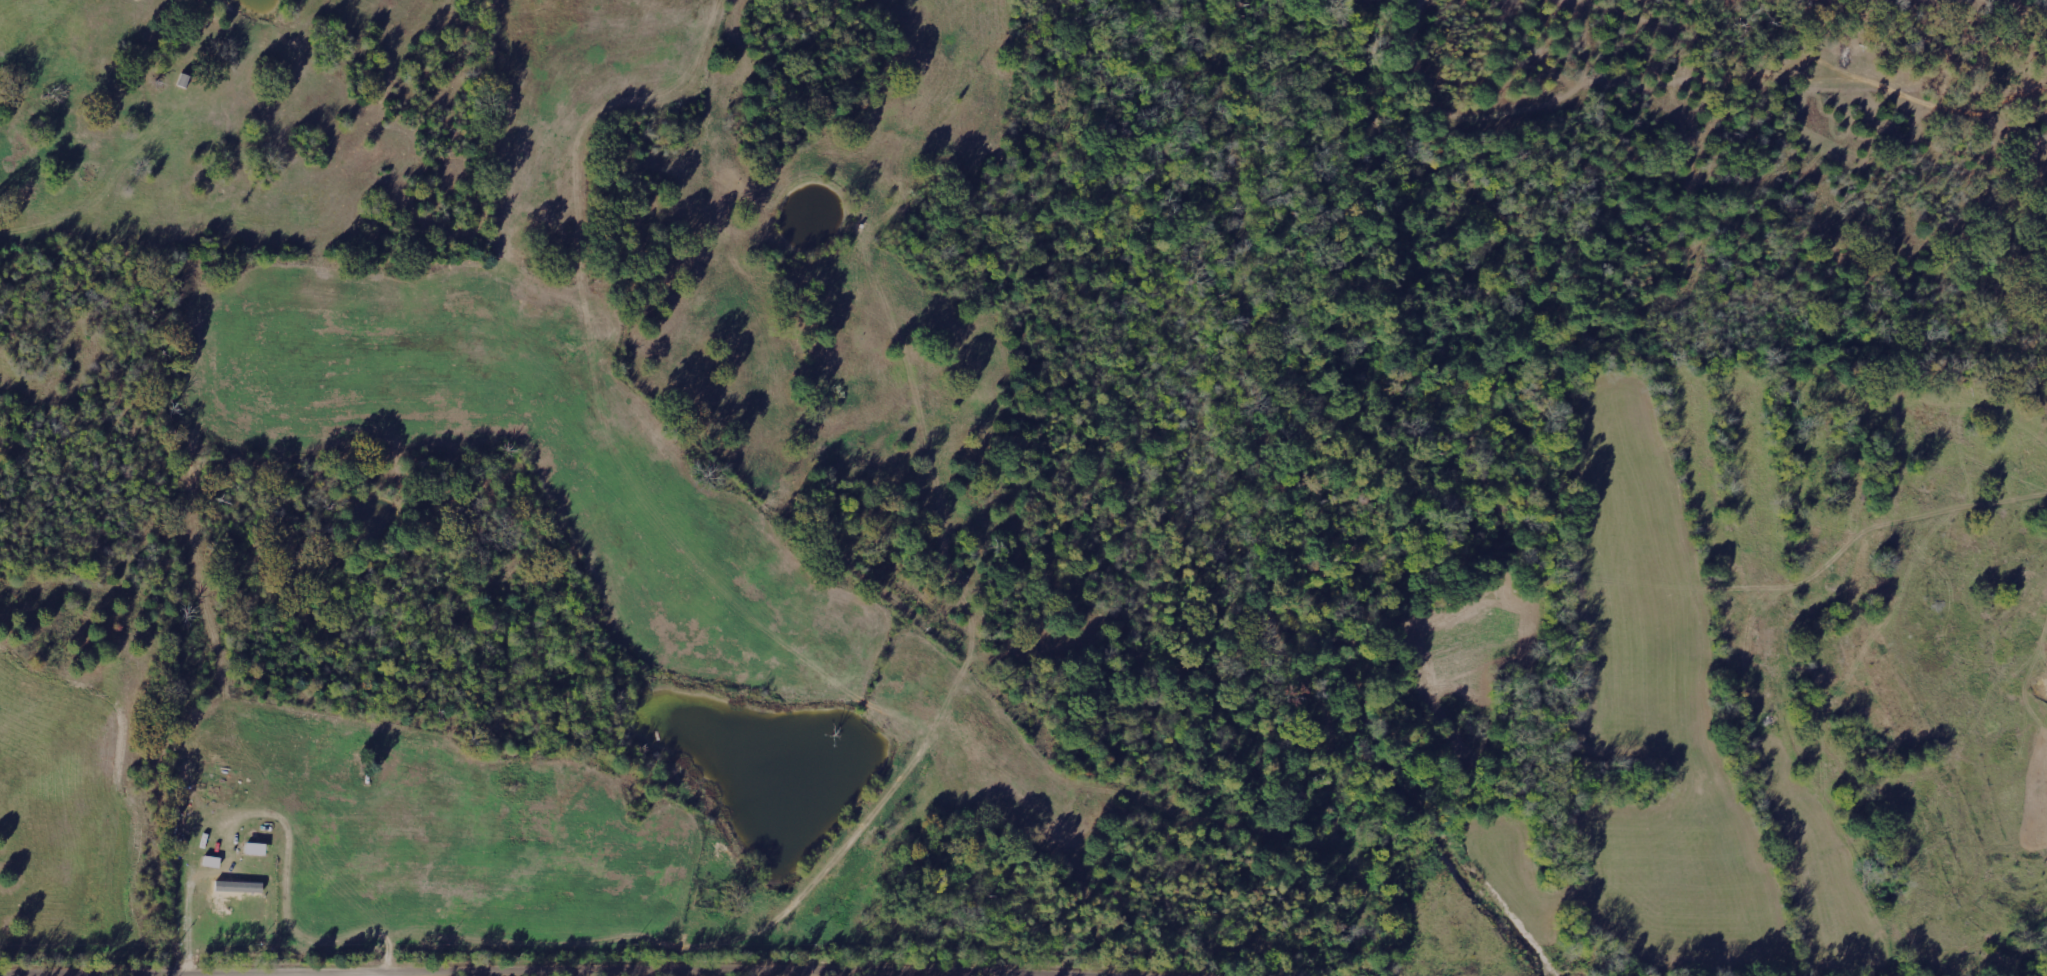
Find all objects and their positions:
building: (251, 849)
road: (610, 973)

